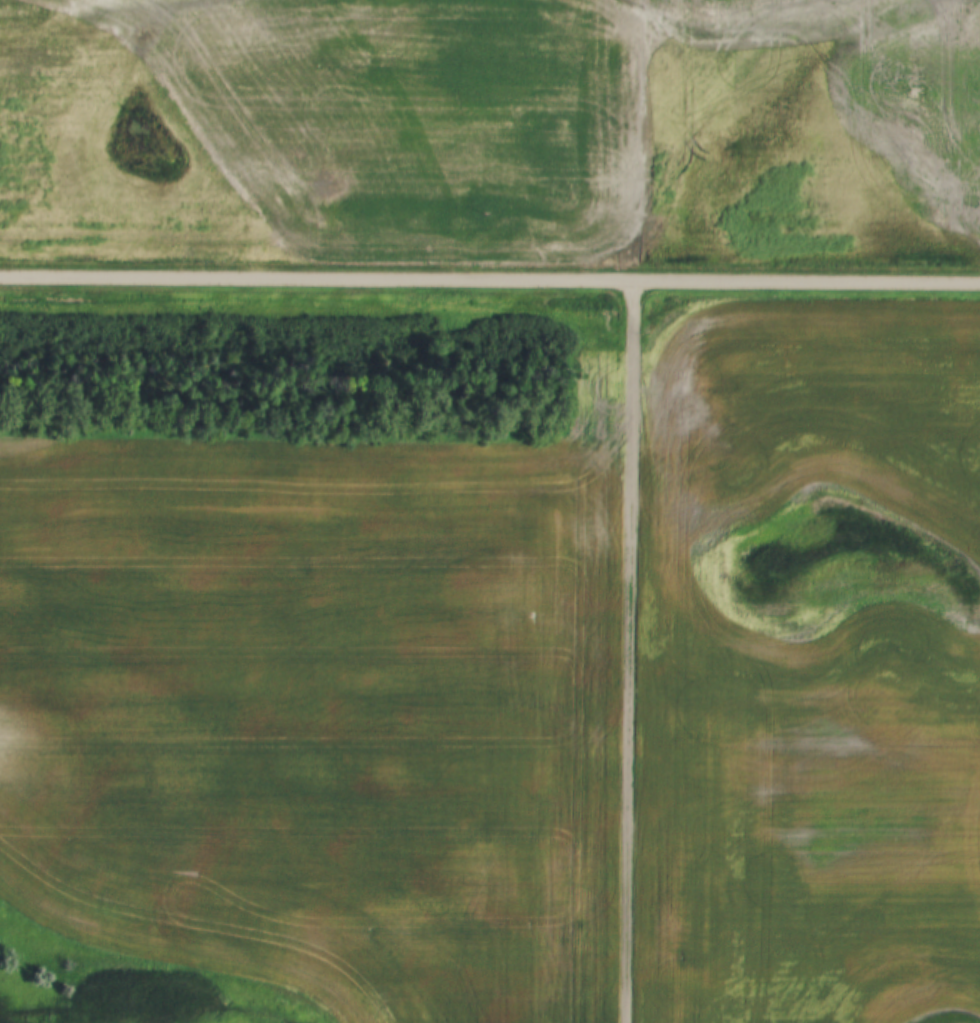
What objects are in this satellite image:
road: (490, 279)
road: (627, 651)

